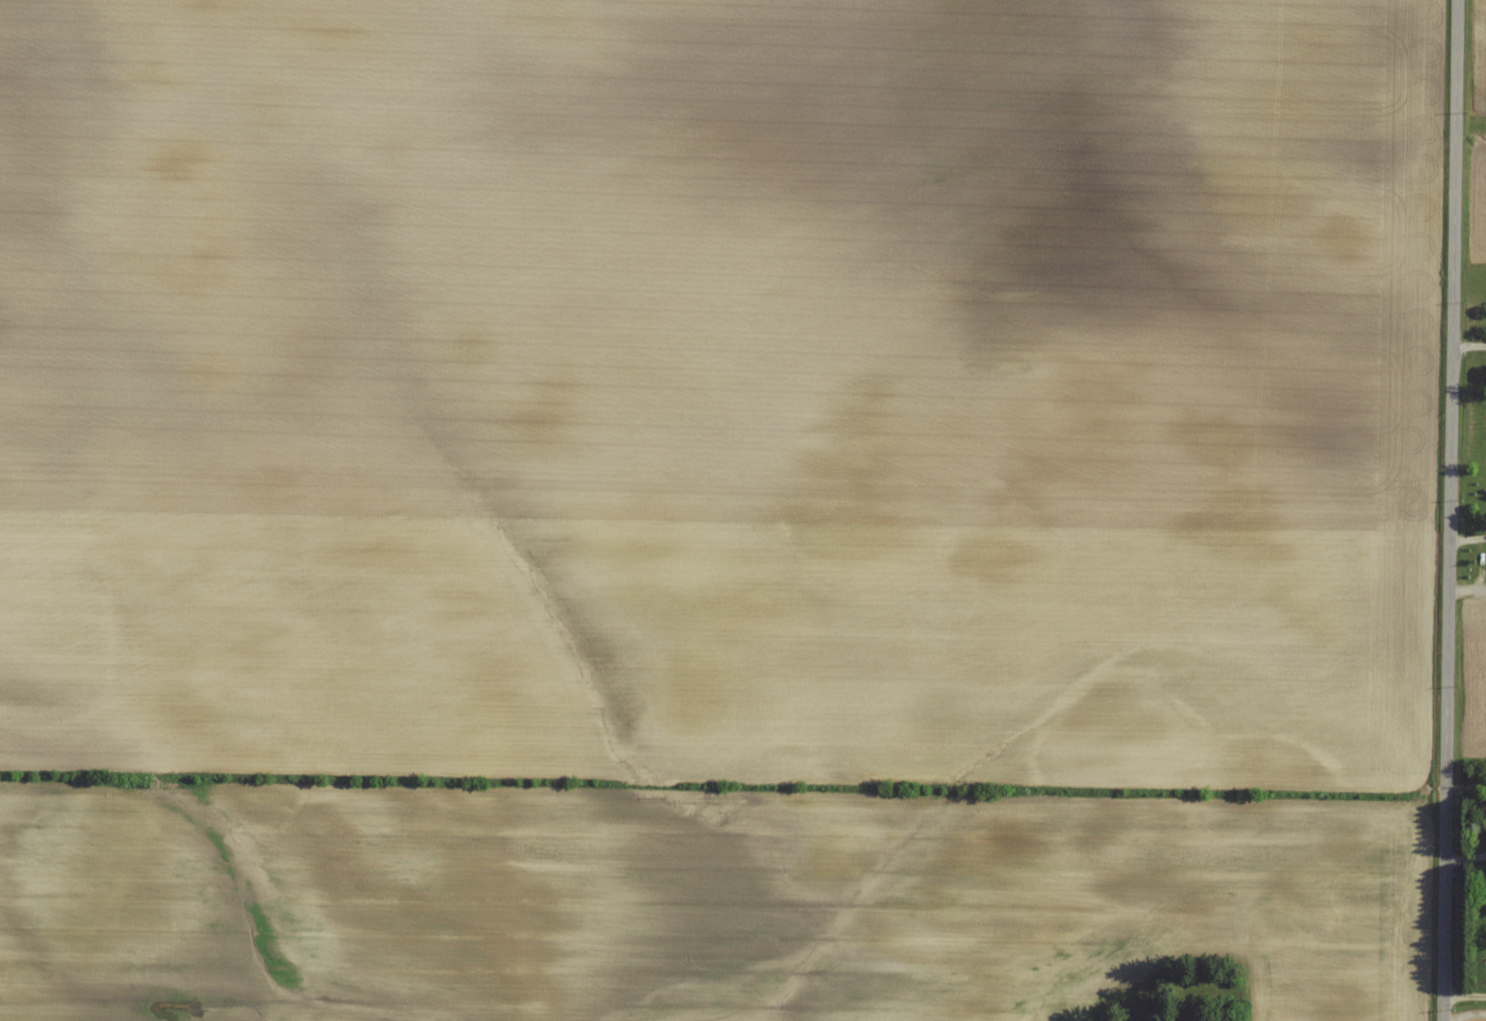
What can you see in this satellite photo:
road: (1467, 343)
road: (1447, 510)
road: (1466, 540)
road: (1478, 558)
road: (1466, 584)
road: (1464, 857)
road: (1462, 996)

